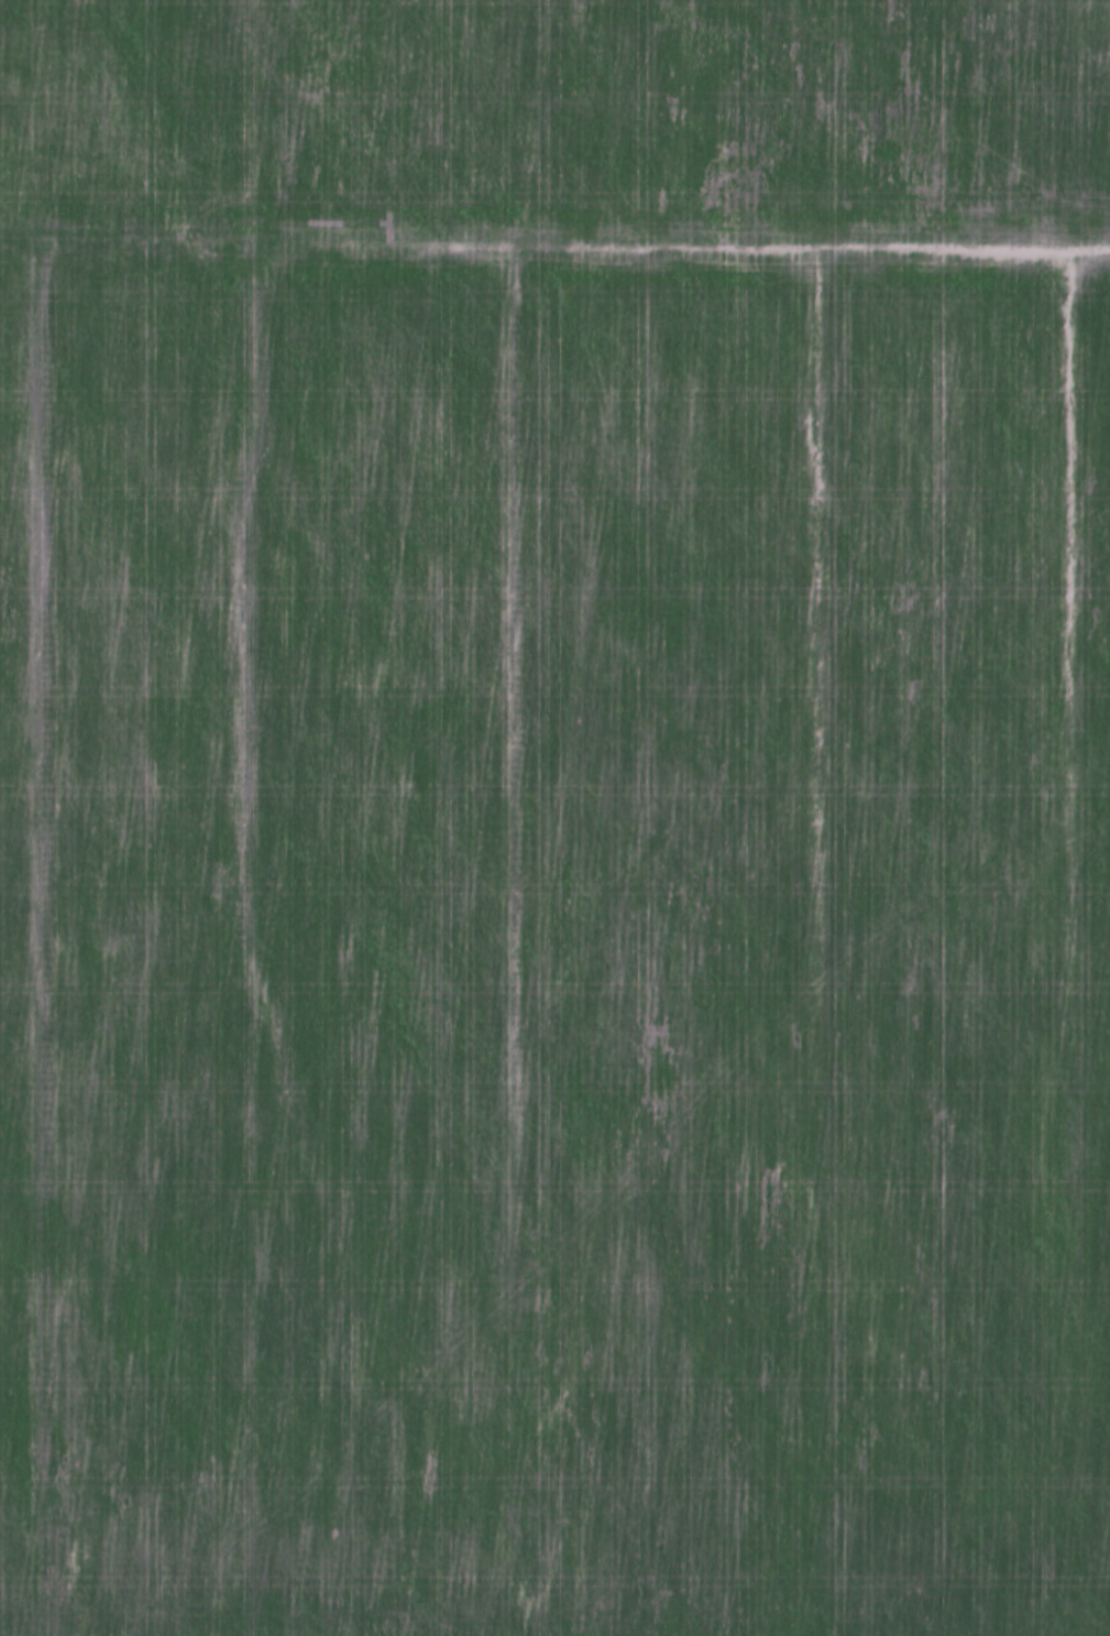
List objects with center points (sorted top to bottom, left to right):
crop: (554, 818)

